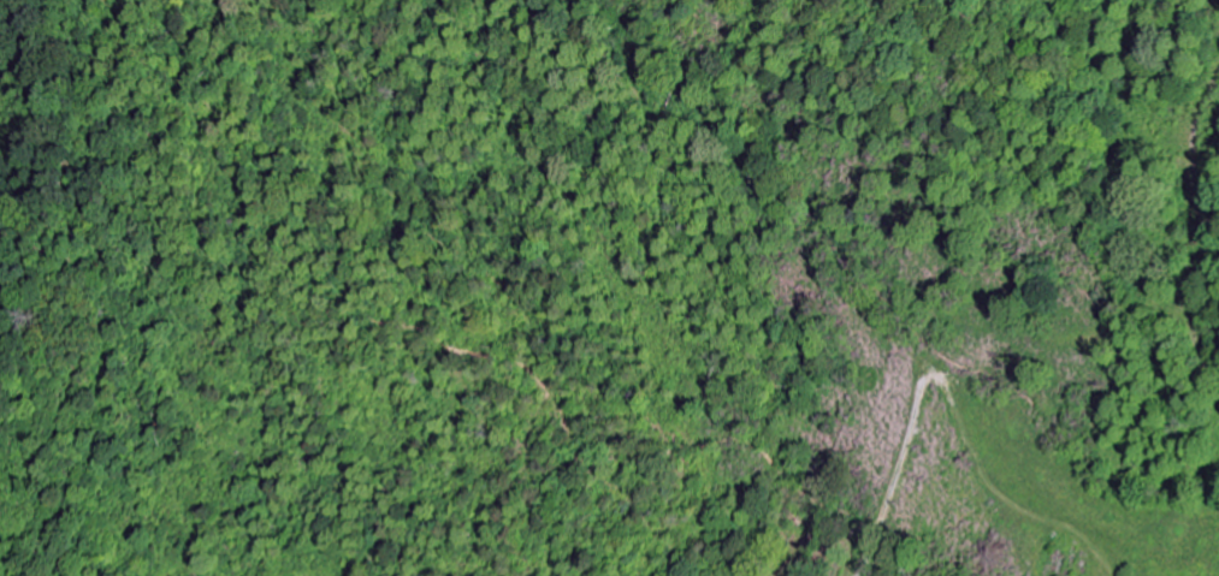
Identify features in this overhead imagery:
park: (805, 562)

